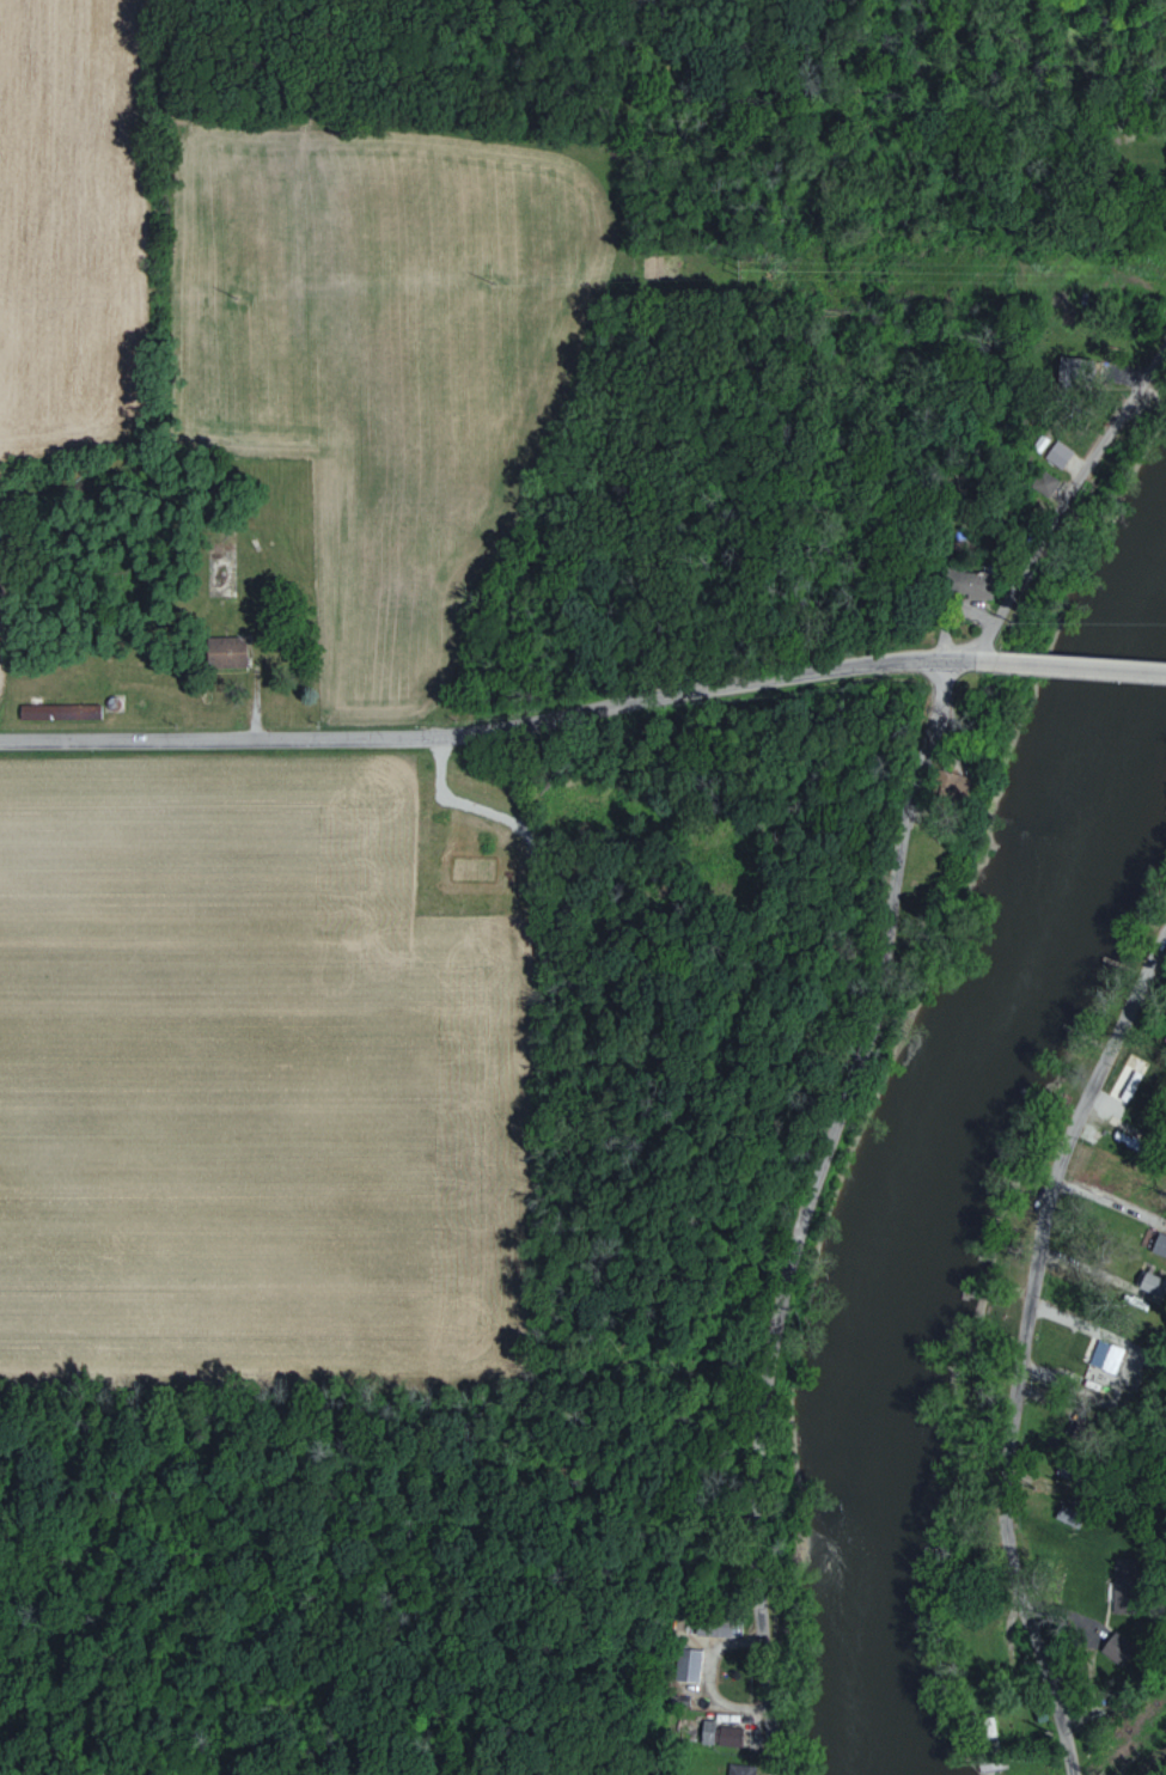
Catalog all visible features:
building: (1057, 453)
building: (1043, 482)
building: (967, 582)
building: (222, 651)
road: (1056, 667)
road: (476, 731)
road: (866, 1025)
river: (924, 1197)
building: (1158, 1245)
building: (1149, 1283)
road: (1018, 1346)
building: (1105, 1355)
building: (688, 1664)
building: (706, 1731)
building: (729, 1734)
building: (739, 1769)

